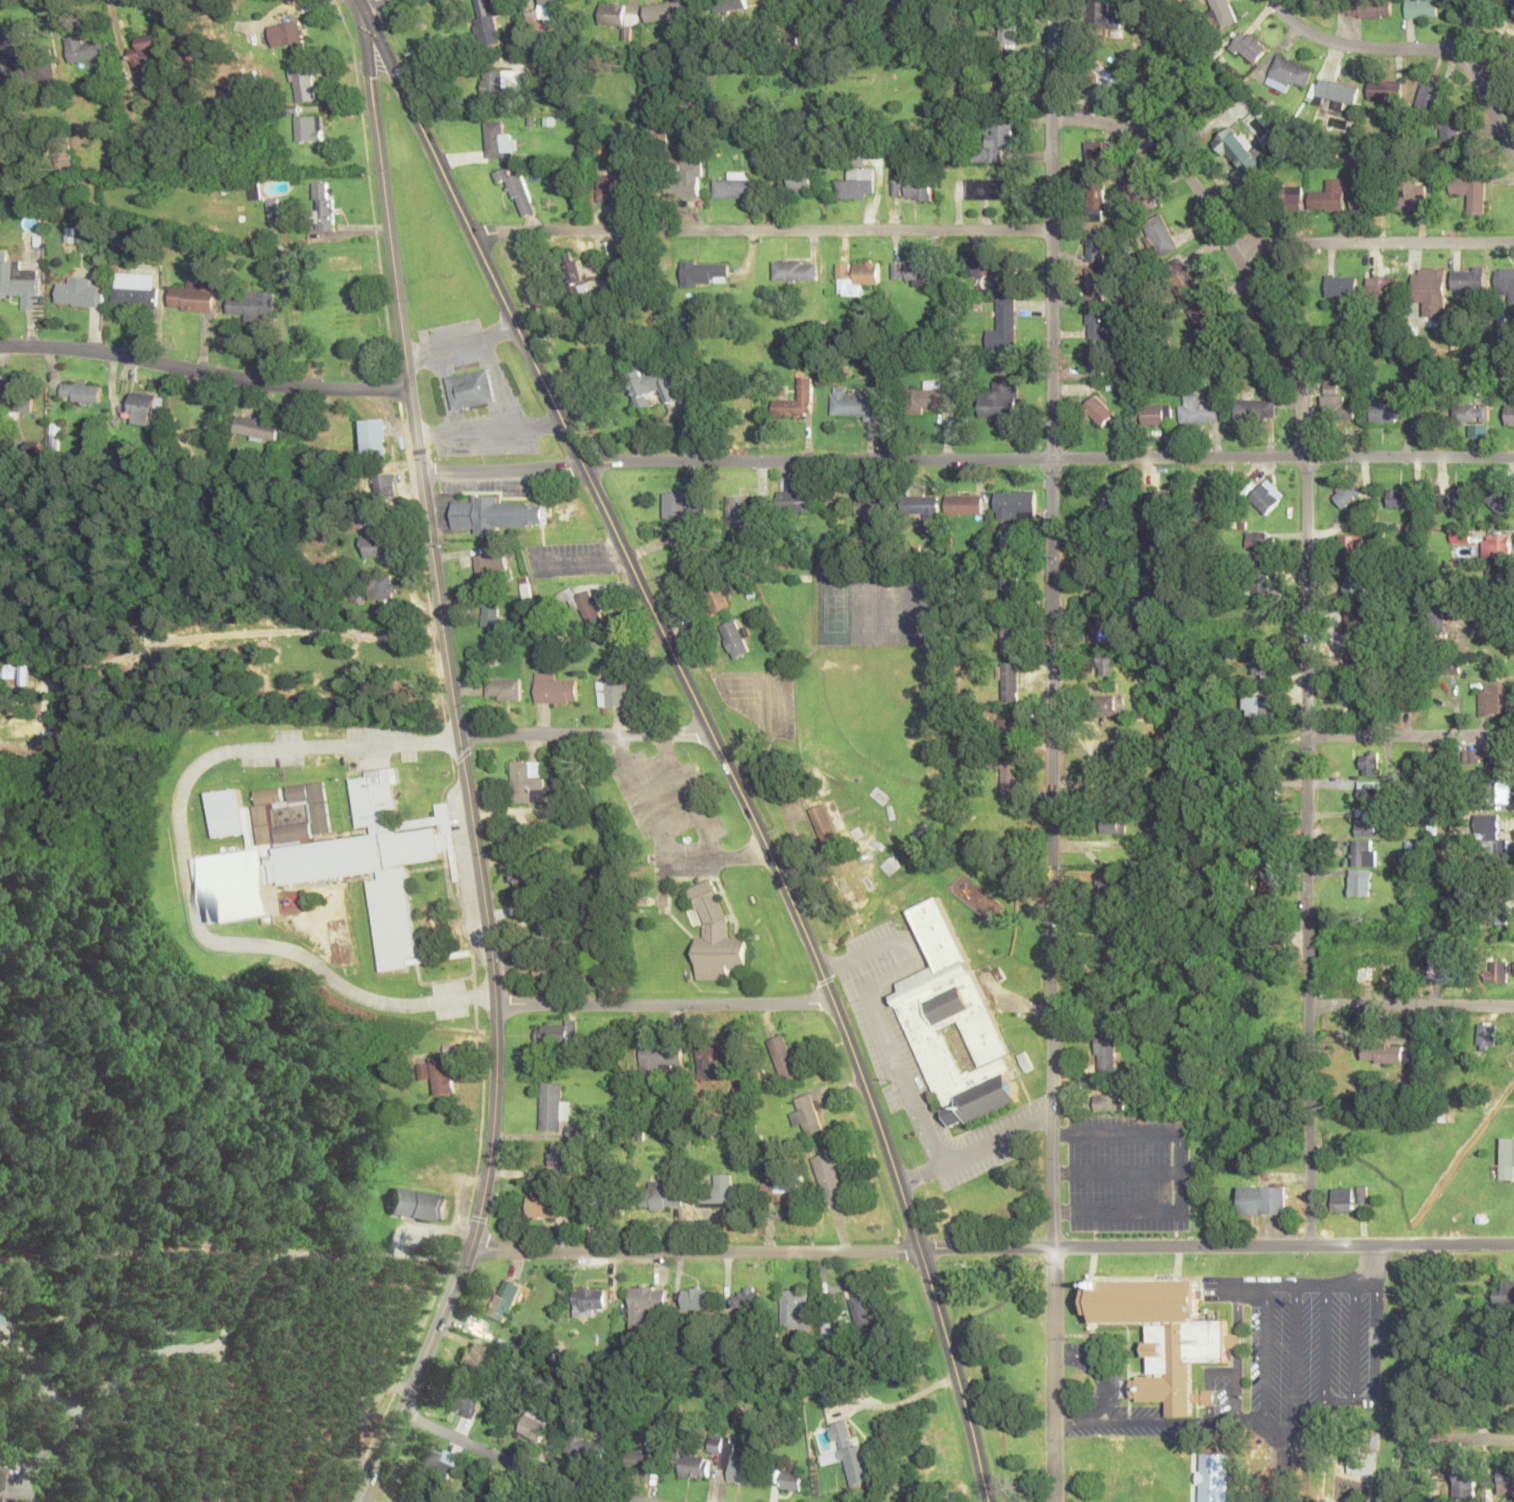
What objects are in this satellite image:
building: (774, 0)
road: (377, 1)
building: (730, 5)
building: (1363, 7)
building: (1421, 8)
building: (548, 11)
building: (670, 11)
building: (1222, 12)
building: (1513, 12)
building: (1101, 14)
building: (619, 18)
building: (485, 23)
building: (1006, 30)
building: (289, 35)
building: (1248, 47)
building: (88, 48)
road: (1363, 48)
building: (146, 58)
building: (29, 69)
building: (1287, 74)
building: (1103, 75)
road: (1476, 81)
building: (303, 83)
building: (494, 83)
building: (1005, 85)
building: (1384, 90)
building: (1335, 93)
building: (310, 128)
building: (996, 140)
building: (498, 142)
building: (1449, 142)
building: (1239, 155)
building: (1094, 157)
building: (689, 176)
building: (799, 180)
building: (857, 183)
building: (735, 186)
building: (612, 187)
building: (912, 188)
building: (991, 189)
building: (1140, 190)
building: (517, 191)
building: (1470, 192)
road: (384, 194)
building: (1411, 195)
building: (1328, 196)
building: (1094, 197)
building: (1291, 197)
building: (1365, 202)
building: (324, 208)
road: (759, 231)
building: (1158, 236)
building: (1095, 245)
road: (1253, 246)
building: (795, 270)
building: (995, 270)
building: (912, 271)
building: (705, 273)
building: (855, 276)
building: (1179, 277)
building: (578, 279)
building: (1467, 280)
building: (18, 281)
building: (1340, 285)
building: (1381, 285)
building: (1095, 286)
building: (1505, 287)
building: (1428, 289)
building: (135, 290)
building: (77, 292)
building: (192, 298)
building: (253, 305)
building: (1006, 317)
building: (1207, 322)
building: (1098, 323)
building: (1098, 359)
road: (204, 371)
building: (651, 384)
building: (472, 390)
building: (80, 392)
building: (16, 396)
building: (930, 398)
building: (1001, 399)
building: (796, 401)
building: (1334, 402)
building: (856, 404)
building: (139, 408)
building: (1253, 408)
building: (1098, 410)
building: (1197, 410)
building: (1389, 410)
building: (1470, 412)
building: (1156, 414)
building: (1509, 414)
building: (258, 428)
building: (374, 437)
road: (967, 460)
road: (1306, 484)
building: (385, 485)
building: (1347, 493)
building: (1267, 496)
building: (1400, 498)
building: (1159, 500)
building: (1455, 500)
building: (797, 501)
building: (1213, 501)
building: (1501, 501)
building: (1112, 502)
building: (683, 505)
building: (873, 506)
building: (919, 506)
building: (959, 506)
building: (1016, 506)
building: (740, 509)
building: (496, 514)
building: (1260, 543)
building: (1351, 545)
building: (1497, 545)
building: (377, 546)
building: (687, 546)
building: (490, 565)
building: (1498, 580)
building: (1263, 584)
building: (1358, 584)
building: (381, 588)
building: (1009, 590)
building: (714, 594)
building: (583, 605)
park: (832, 607)
park: (862, 608)
park: (892, 608)
park: (924, 608)
building: (491, 615)
building: (1491, 615)
building: (1352, 622)
building: (1102, 628)
building: (734, 638)
building: (1009, 638)
building: (1358, 660)
building: (1105, 664)
building: (1263, 665)
building: (7, 670)
building: (1009, 682)
building: (614, 684)
building: (504, 689)
building: (555, 689)
building: (1495, 699)
building: (1259, 703)
building: (1367, 704)
building: (1104, 705)
building: (1145, 712)
road: (713, 734)
road: (586, 735)
building: (1007, 735)
road: (1411, 737)
road: (1052, 750)
building: (1485, 760)
building: (1267, 761)
building: (1370, 763)
building: (1111, 765)
building: (1008, 779)
building: (527, 780)
building: (1371, 792)
building: (1493, 792)
building: (1112, 795)
building: (827, 823)
building: (1111, 824)
building: (1367, 825)
building: (1489, 840)
building: (1363, 853)
building: (323, 854)
road: (188, 875)
building: (527, 880)
building: (1359, 882)
building: (1268, 883)
building: (1108, 886)
building: (1491, 912)
building: (549, 930)
building: (714, 936)
building: (1108, 946)
road: (490, 954)
building: (1442, 964)
building: (1494, 970)
building: (552, 971)
building: (1386, 973)
road: (1307, 992)
road: (663, 1005)
road: (1410, 1006)
building: (953, 1024)
building: (557, 1034)
building: (1485, 1034)
building: (1105, 1054)
building: (1385, 1054)
building: (782, 1056)
building: (658, 1058)
building: (717, 1059)
parking lot: (919, 1069)
building: (438, 1074)
building: (1105, 1102)
building: (552, 1106)
building: (805, 1114)
building: (558, 1155)
building: (1505, 1157)
building: (828, 1178)
building: (717, 1190)
building: (783, 1192)
building: (660, 1195)
building: (1341, 1199)
building: (1262, 1200)
building: (418, 1204)
building: (606, 1204)
building: (544, 1206)
road: (992, 1249)
building: (1505, 1292)
building: (697, 1298)
building: (745, 1299)
building: (504, 1300)
building: (588, 1301)
building: (645, 1304)
building: (794, 1307)
building: (862, 1310)
building: (1, 1319)
building: (164, 1331)
building: (1165, 1334)
building: (473, 1356)
park: (1001, 1361)
building: (462, 1402)
building: (533, 1423)
road: (1493, 1442)
building: (584, 1446)
building: (714, 1446)
building: (646, 1451)
building: (850, 1455)
building: (439, 1461)
building: (1361, 1462)
road: (513, 1465)
building: (692, 1465)
building: (737, 1467)
road: (1281, 1471)
building: (791, 1480)
building: (1142, 1481)
building: (1505, 1481)
building: (4, 1482)
building: (1464, 1484)
building: (1176, 1497)
building: (492, 1498)
building: (404, 1500)

